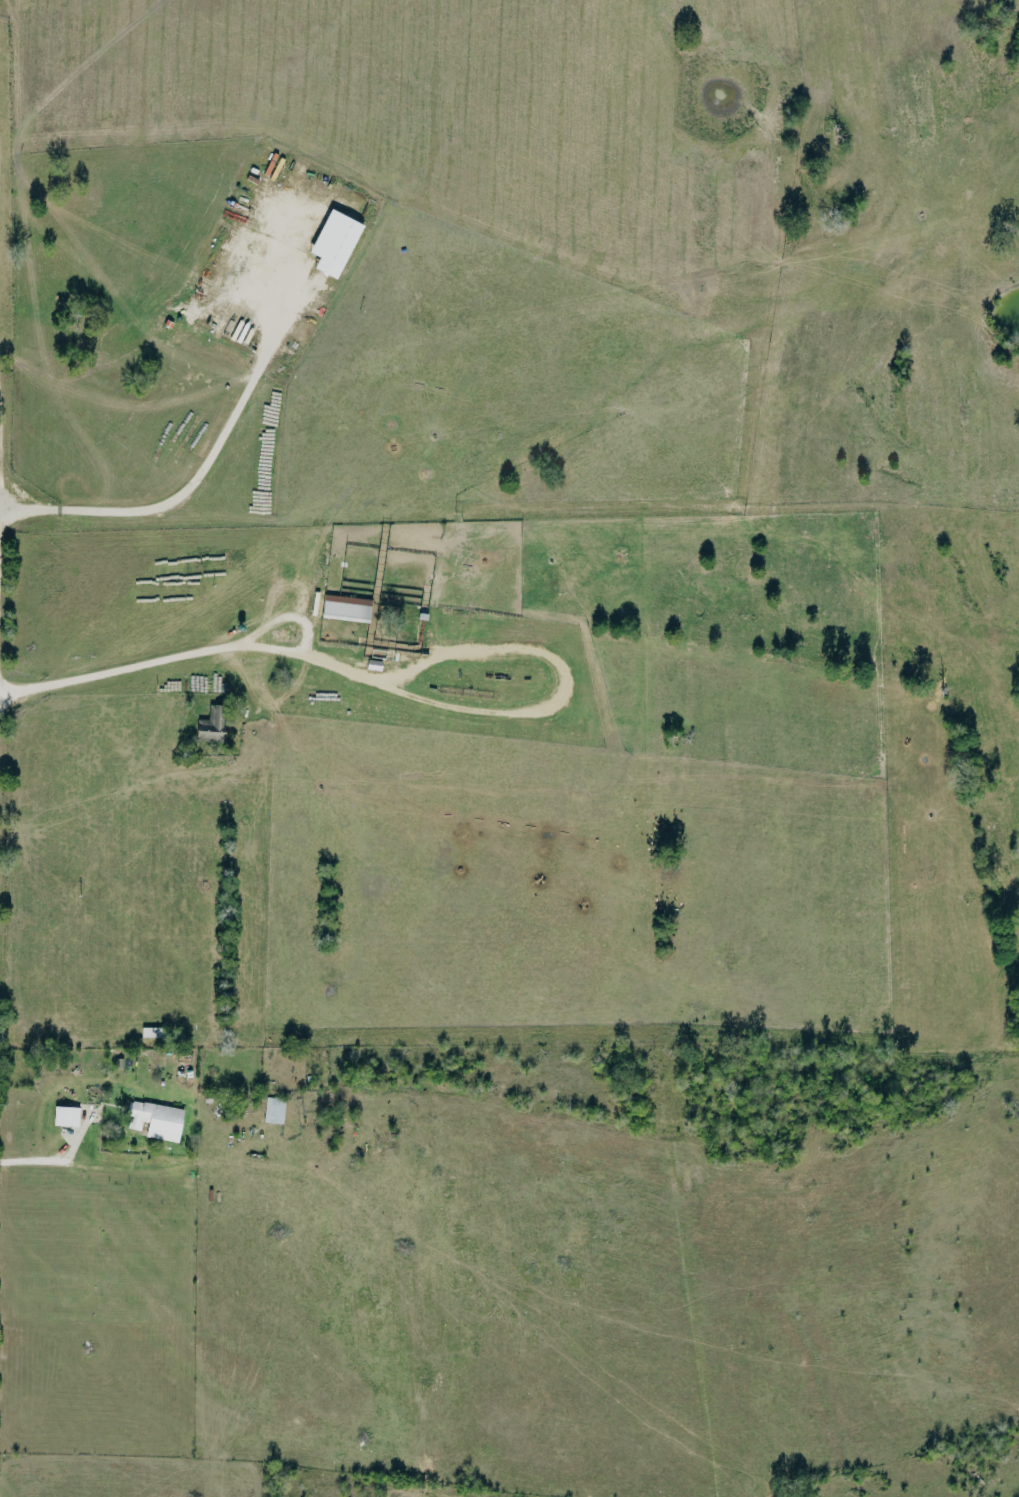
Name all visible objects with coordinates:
building: (339, 244)
building: (349, 609)
building: (214, 726)
building: (276, 1111)
building: (69, 1118)
building: (159, 1121)

